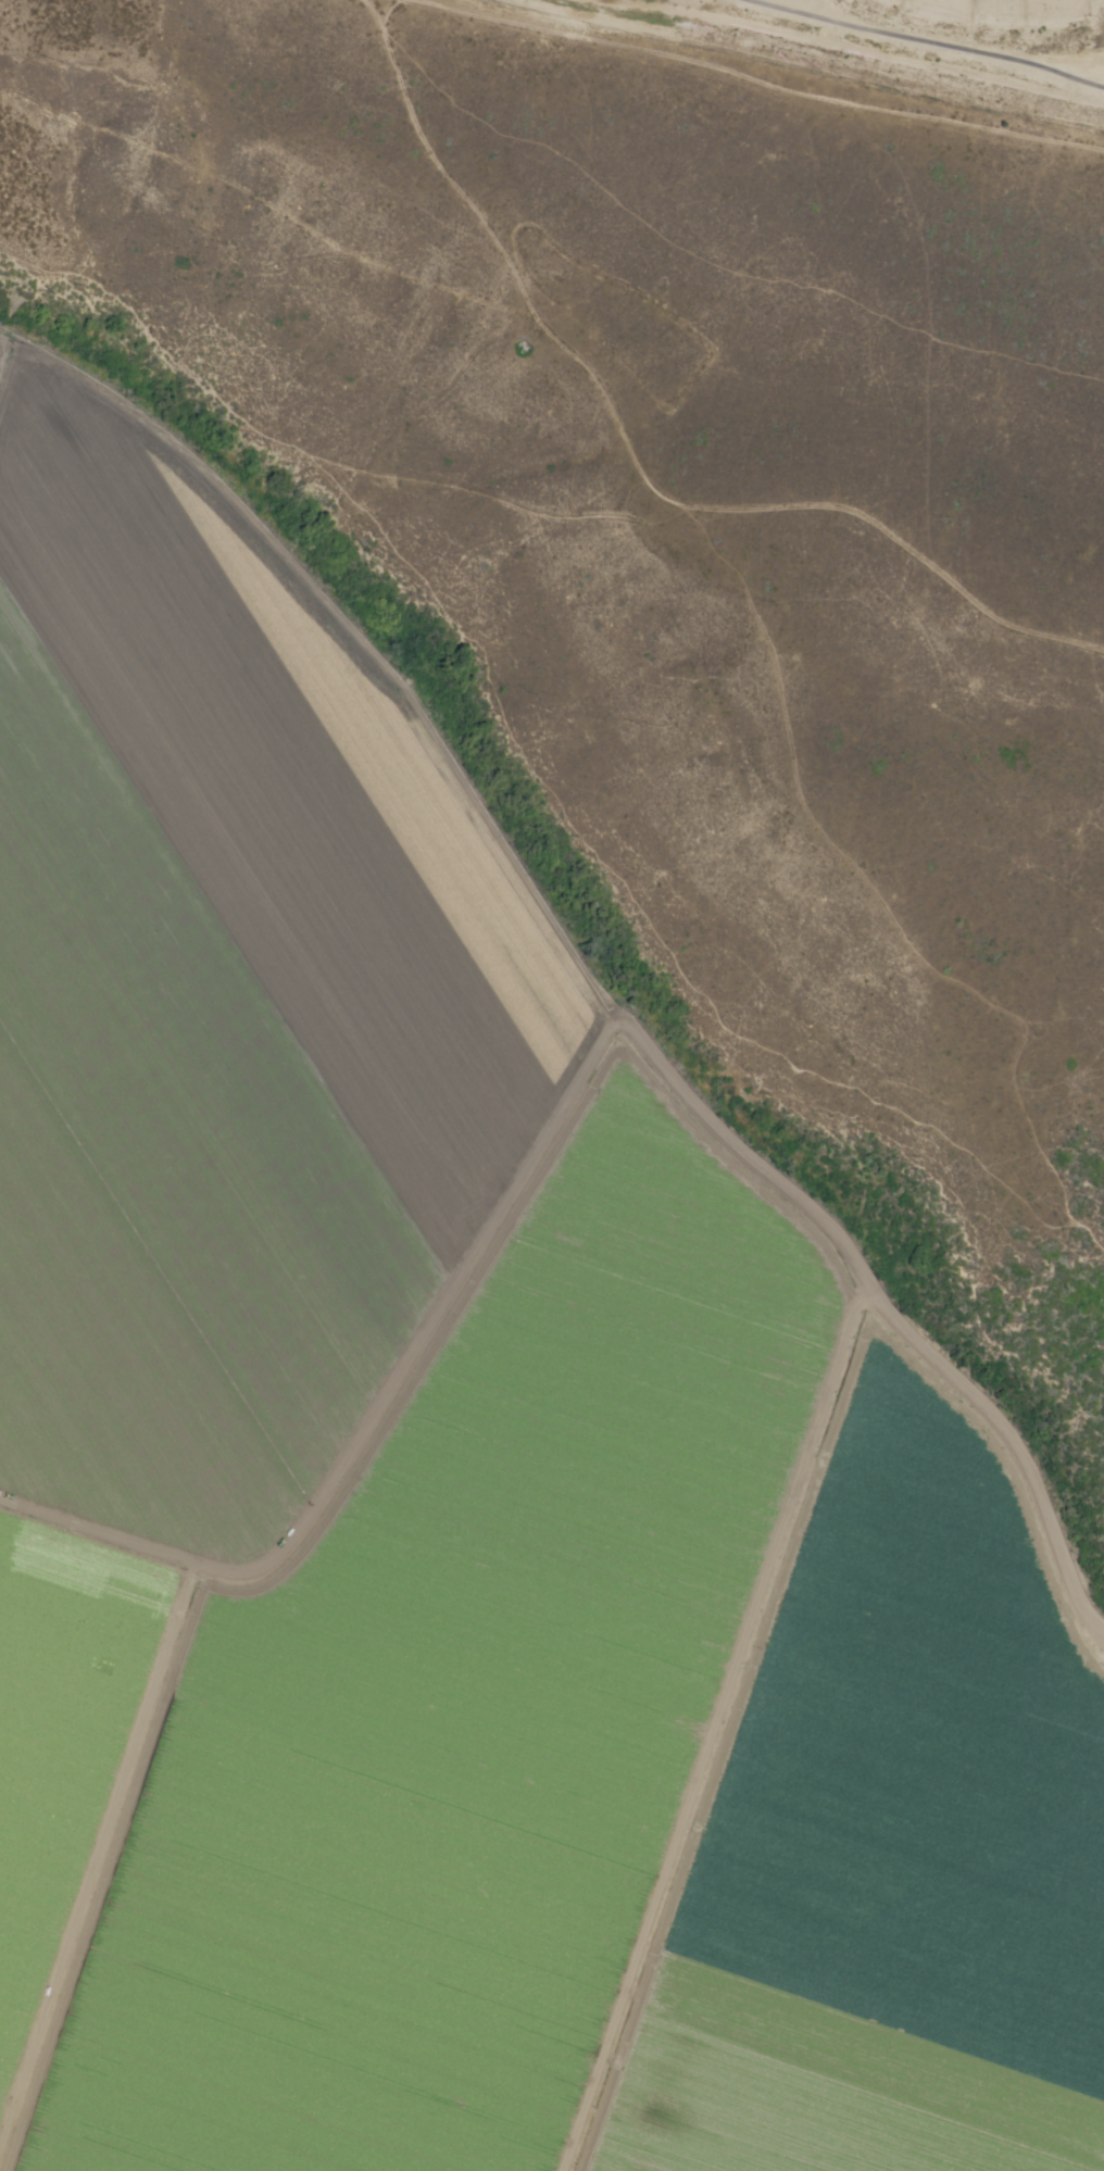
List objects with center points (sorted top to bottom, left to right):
crop: (0, 335)
crop: (228, 995)
crop: (460, 1695)
crop: (63, 1735)
crop: (892, 1843)

